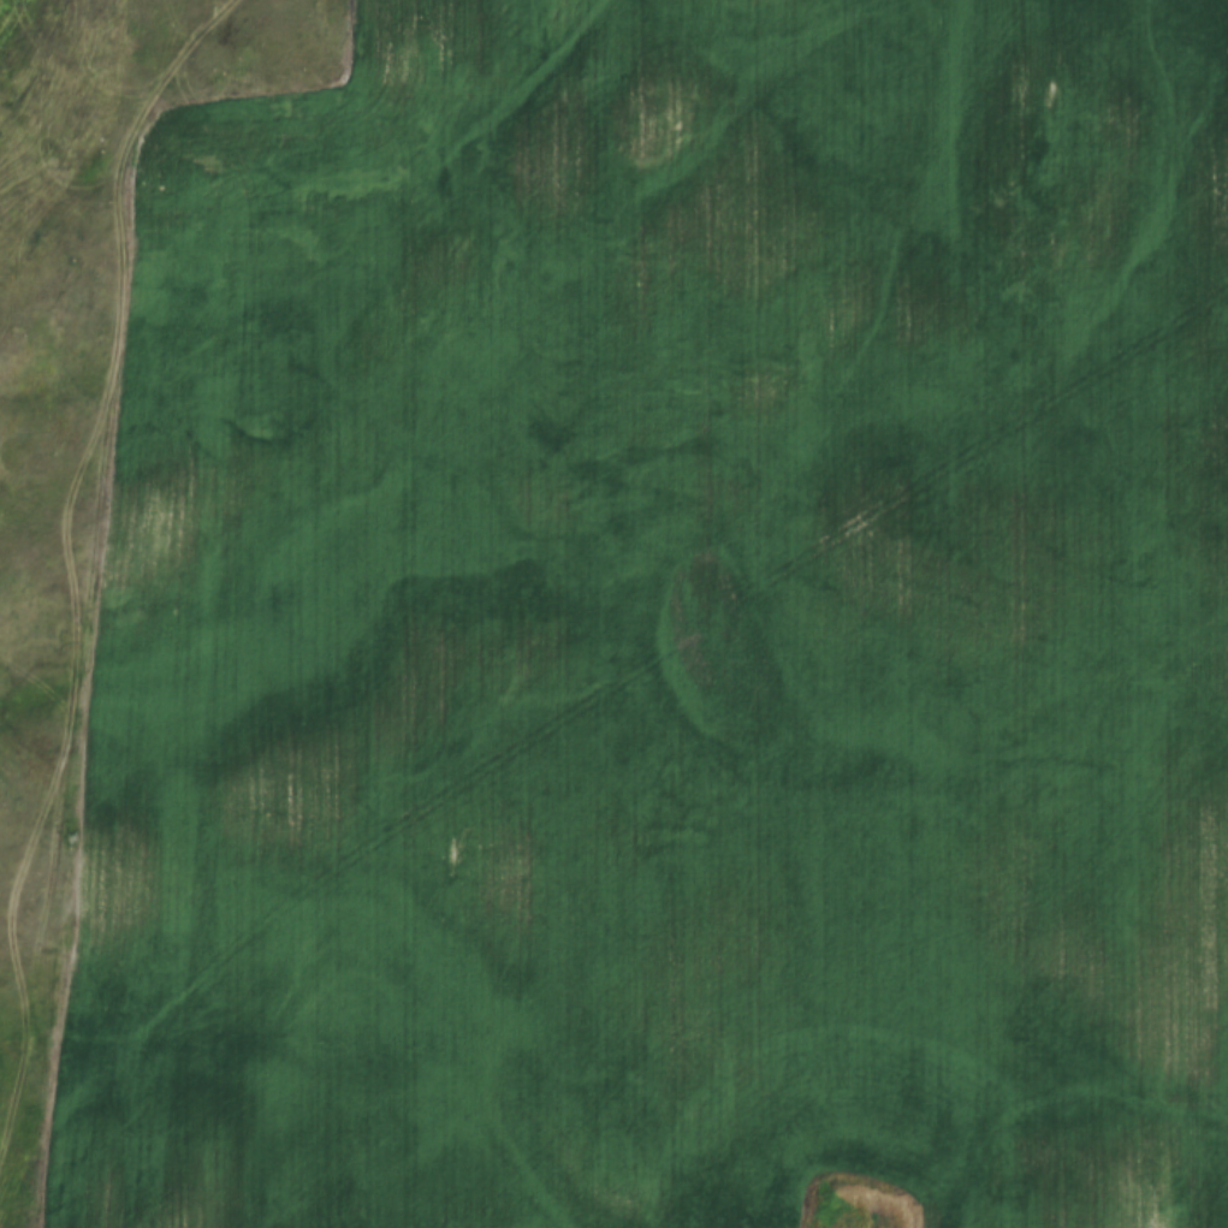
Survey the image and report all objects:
road: (100, 570)
building: (308, 613)

